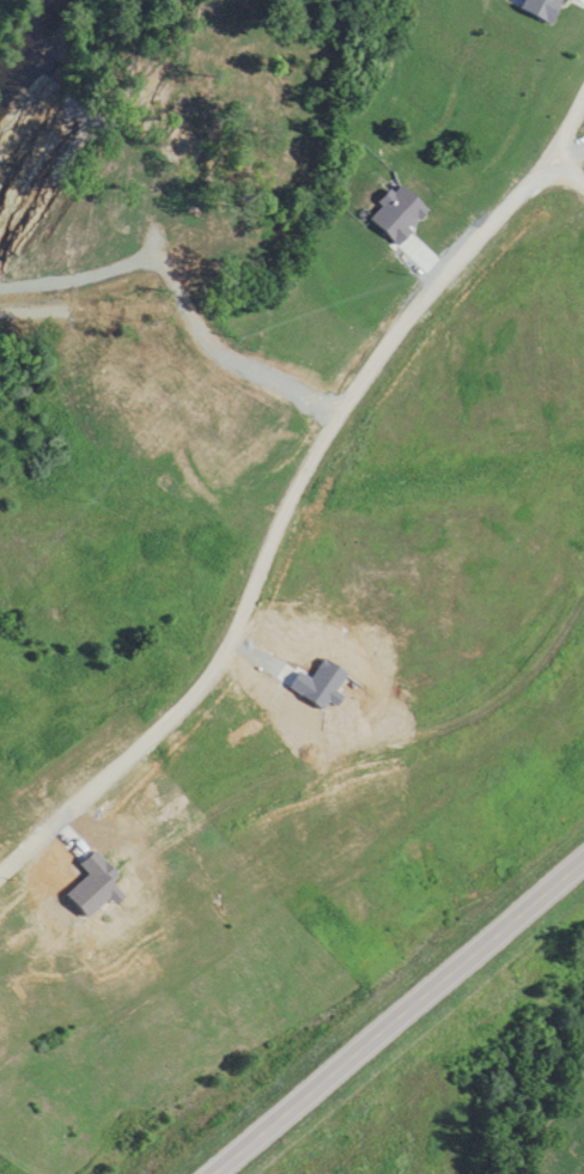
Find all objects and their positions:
road: (565, 168)
road: (293, 482)
road: (393, 1014)

